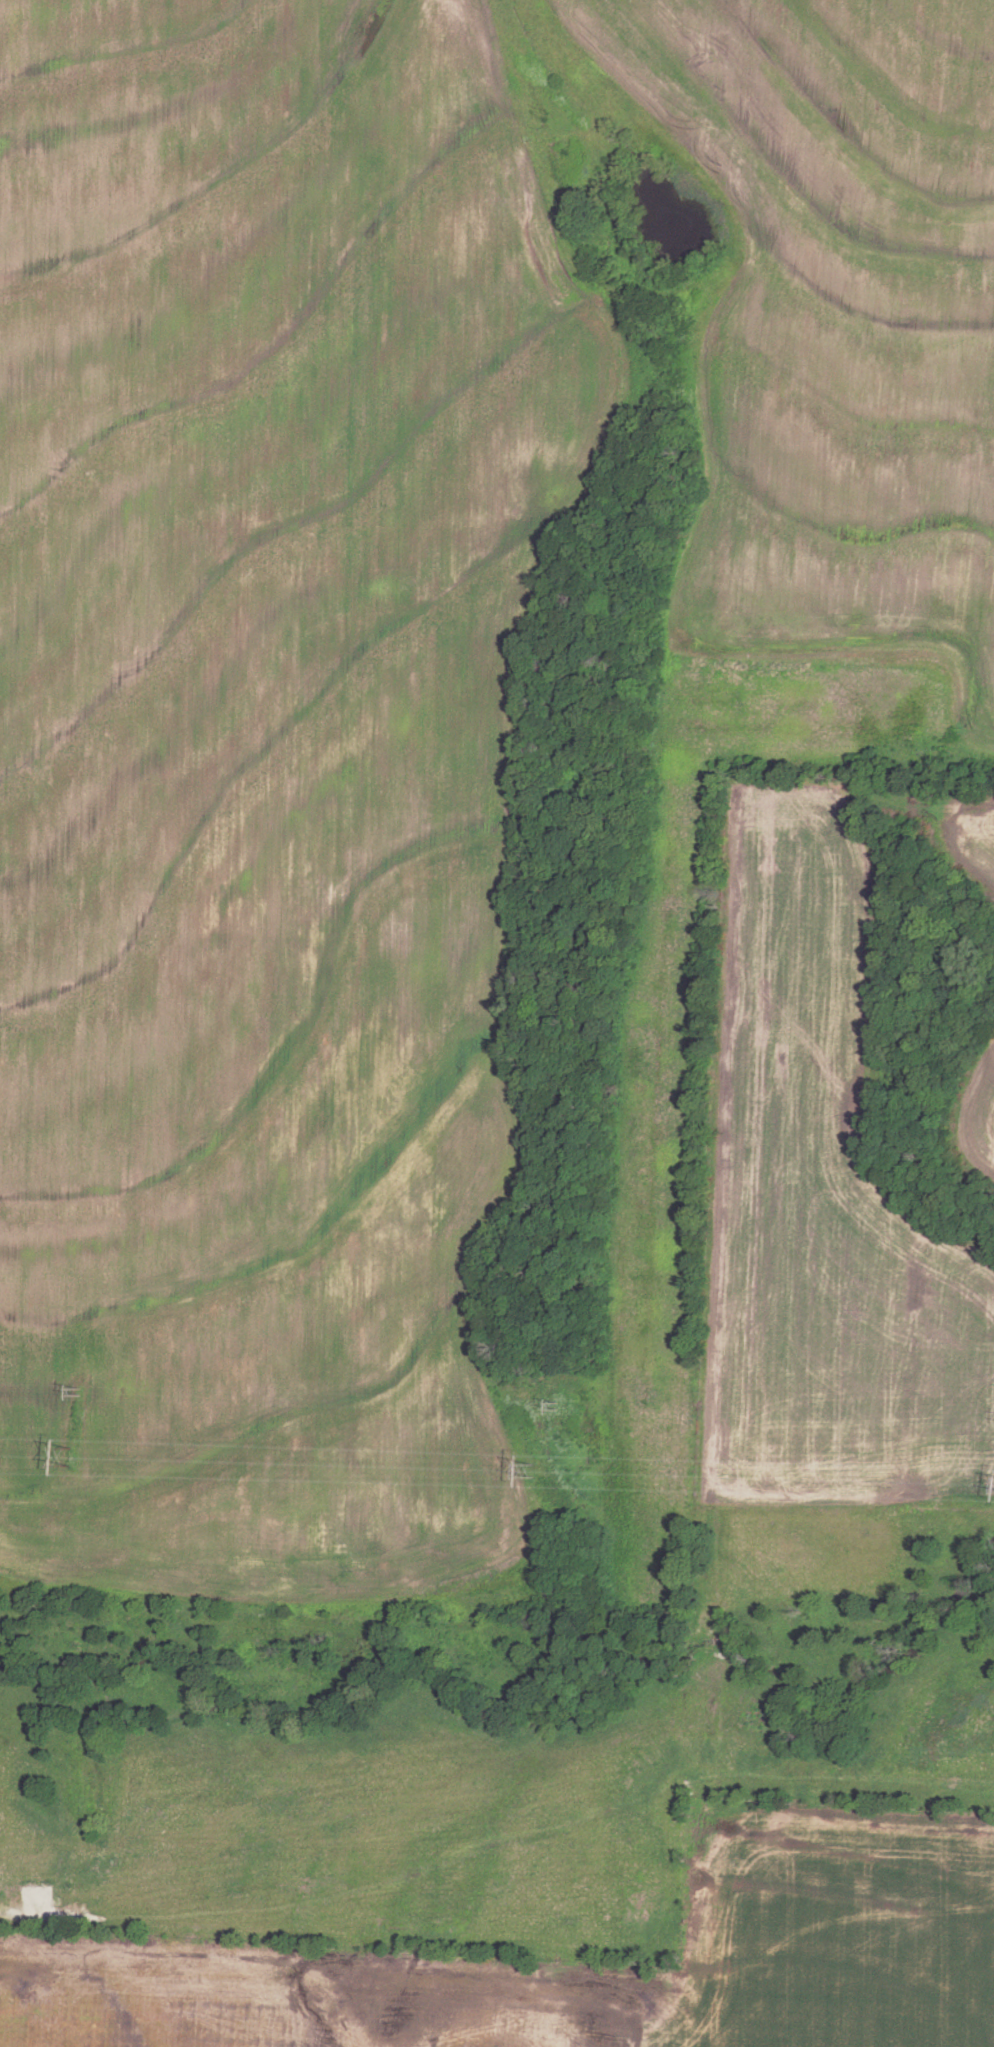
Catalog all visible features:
power tower: (80, 1389)
power tower: (560, 1400)
power tower: (71, 1456)
power tower: (532, 1469)

